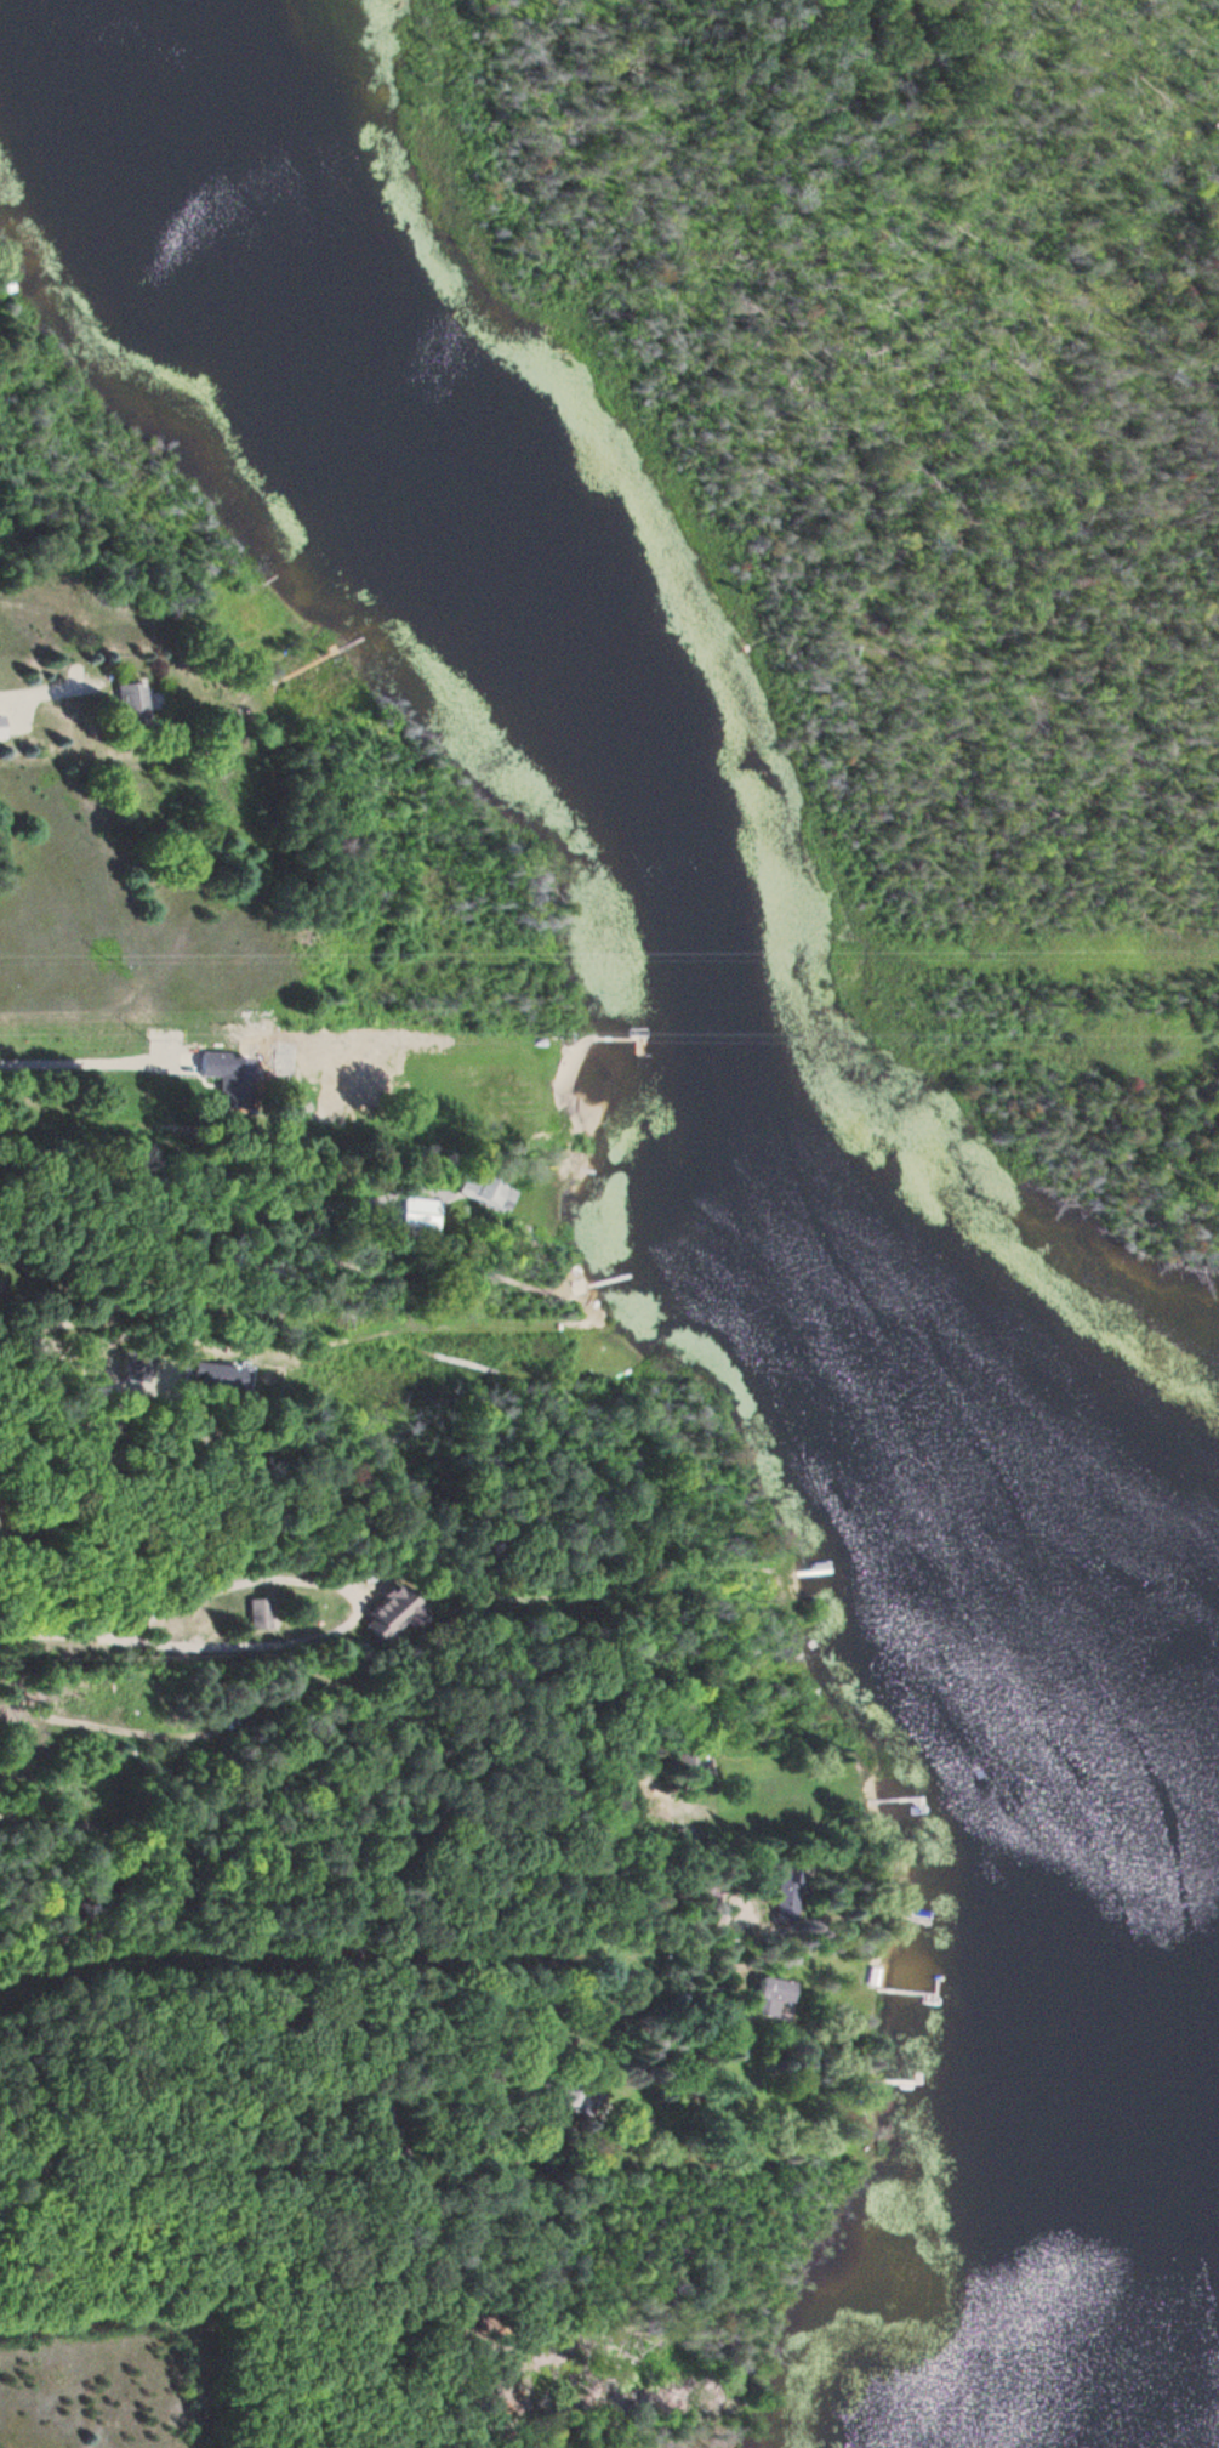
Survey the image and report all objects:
building: (125, 704)
building: (232, 1077)
building: (491, 1191)
building: (425, 1212)
building: (389, 1612)
building: (262, 1613)
road: (349, 1828)
building: (790, 1891)
road: (269, 1961)
building: (777, 1995)
road: (303, 2026)

